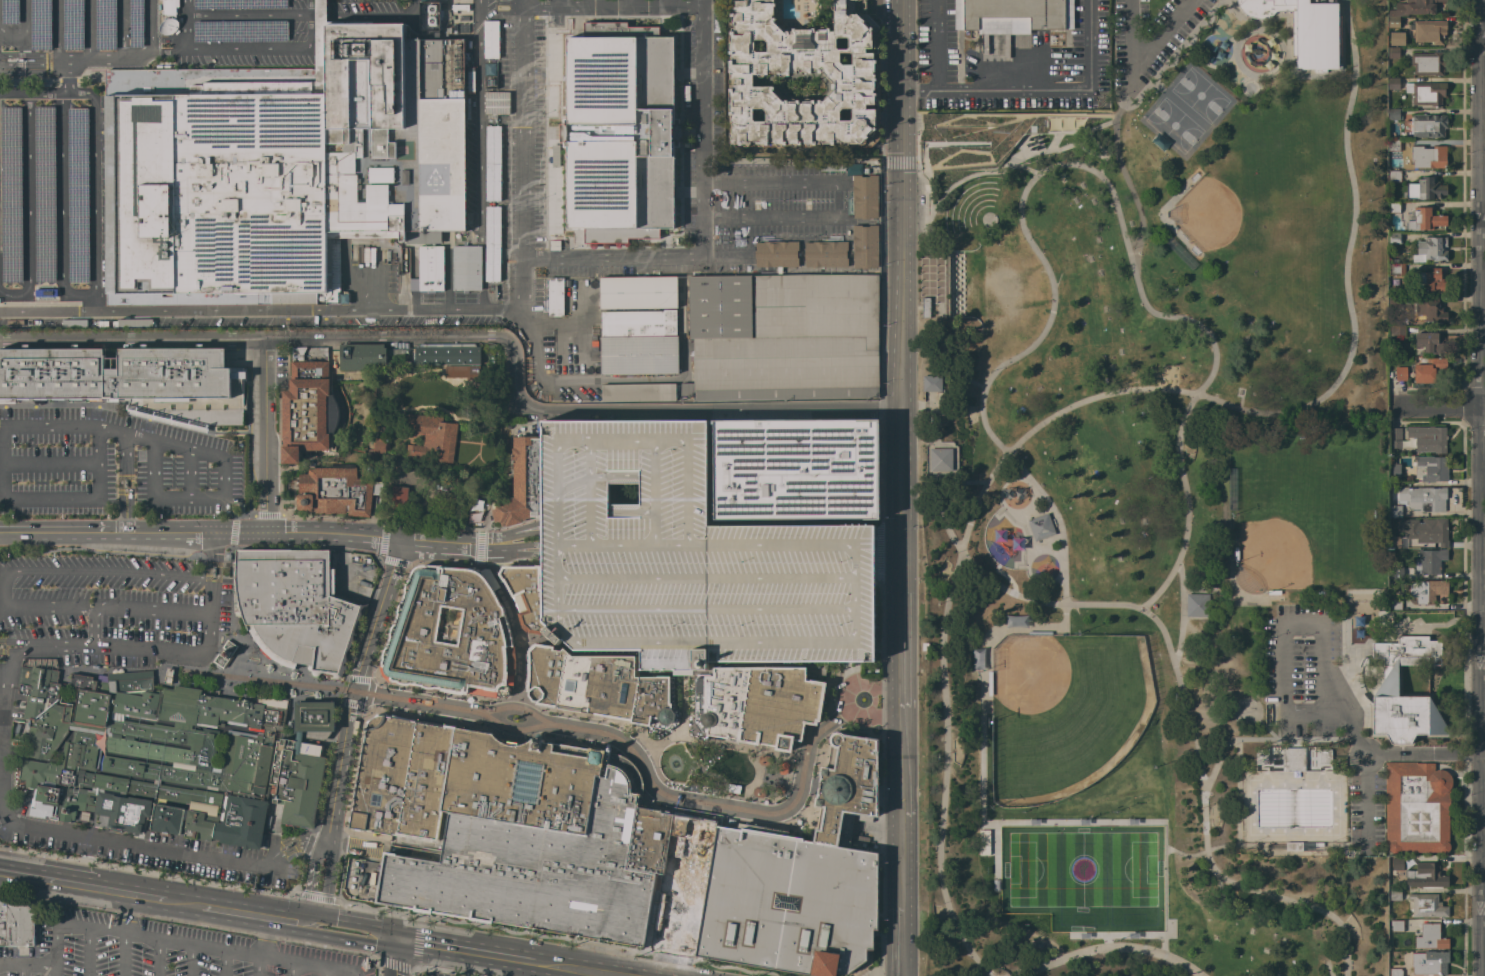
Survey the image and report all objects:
road: (520, 3)
road: (521, 3)
road: (554, 3)
road: (593, 3)
road: (630, 3)
road: (666, 3)
building: (237, 4)
road: (412, 6)
road: (611, 6)
building: (170, 7)
road: (1346, 7)
building: (1414, 7)
building: (8, 11)
road: (369, 13)
road: (320, 15)
road: (265, 16)
road: (313, 16)
building: (429, 16)
building: (1013, 16)
building: (1394, 22)
building: (134, 23)
building: (39, 24)
building: (71, 24)
building: (103, 24)
road: (148, 25)
road: (186, 25)
road: (1261, 27)
building: (1305, 28)
road: (57, 30)
road: (88, 31)
road: (120, 31)
building: (238, 31)
building: (1430, 31)
road: (1344, 36)
road: (24, 37)
parking lot: (1151, 37)
building: (1396, 38)
building: (491, 40)
road: (1290, 44)
road: (936, 45)
road: (167, 46)
road: (248, 50)
building: (1395, 52)
road: (1238, 53)
road: (1287, 53)
road: (1175, 56)
road: (1141, 58)
road: (32, 59)
road: (107, 63)
building: (1428, 64)
road: (33, 72)
building: (851, 73)
road: (64, 78)
building: (490, 81)
building: (1394, 83)
road: (1040, 89)
building: (1426, 93)
road: (32, 94)
park: (1202, 96)
building: (492, 103)
building: (504, 103)
building: (1395, 114)
building: (1427, 125)
park: (1177, 126)
road: (702, 128)
building: (619, 132)
building: (984, 137)
road: (1090, 138)
building: (1394, 147)
road: (1055, 148)
building: (555, 152)
road: (481, 155)
building: (1428, 157)
road: (520, 158)
building: (555, 163)
building: (492, 164)
building: (280, 167)
building: (1394, 176)
helipad: (433, 179)
road: (93, 181)
road: (953, 182)
road: (1132, 188)
building: (1430, 188)
road: (61, 194)
building: (9, 195)
road: (28, 195)
building: (43, 195)
building: (76, 195)
building: (864, 196)
road: (838, 201)
road: (1479, 202)
parking lot: (772, 207)
building: (1394, 207)
park: (1243, 217)
building: (1425, 220)
building: (1395, 238)
building: (492, 244)
building: (865, 246)
building: (1431, 250)
building: (776, 254)
building: (825, 254)
road: (636, 258)
building: (466, 268)
building: (1396, 269)
building: (427, 274)
road: (904, 279)
building: (1431, 280)
building: (638, 292)
road: (47, 295)
building: (555, 297)
building: (1394, 300)
road: (94, 303)
building: (925, 307)
building: (1431, 310)
road: (260, 311)
road: (942, 322)
building: (1392, 322)
building: (638, 323)
building: (1397, 331)
building: (784, 337)
road: (479, 338)
building: (1430, 343)
building: (323, 350)
building: (298, 353)
building: (446, 354)
building: (639, 355)
building: (362, 356)
building: (465, 370)
building: (1428, 370)
building: (1401, 373)
road: (617, 379)
building: (132, 381)
building: (932, 383)
building: (686, 389)
building: (638, 392)
road: (985, 395)
building: (940, 400)
road: (1093, 400)
road: (1439, 404)
road: (107, 405)
building: (309, 411)
building: (383, 416)
road: (2, 423)
road: (50, 423)
road: (123, 433)
road: (262, 435)
building: (1394, 437)
building: (432, 438)
building: (1428, 438)
building: (379, 446)
building: (941, 459)
road: (50, 464)
parking lot: (111, 464)
building: (1431, 468)
building: (796, 469)
building: (525, 471)
road: (188, 472)
building: (1393, 472)
road: (123, 482)
road: (593, 491)
road: (656, 491)
building: (336, 492)
road: (214, 493)
road: (49, 497)
building: (399, 497)
building: (1424, 498)
building: (1395, 510)
building: (507, 511)
park: (1171, 516)
park: (1296, 524)
building: (1039, 527)
building: (1425, 530)
road: (224, 531)
road: (504, 535)
building: (1394, 542)
road: (212, 544)
road: (305, 546)
road: (503, 548)
road: (478, 549)
road: (101, 551)
road: (216, 556)
road: (378, 557)
building: (685, 558)
parking lot: (685, 558)
road: (865, 558)
road: (889, 559)
building: (1431, 560)
road: (207, 567)
road: (216, 567)
road: (451, 568)
building: (1397, 572)
road: (48, 574)
road: (1005, 577)
road: (708, 579)
road: (230, 583)
building: (1426, 590)
building: (525, 595)
building: (1395, 604)
parking lot: (99, 605)
building: (1195, 605)
building: (293, 607)
road: (132, 609)
road: (708, 609)
road: (1184, 614)
road: (903, 623)
building: (450, 634)
road: (517, 636)
road: (241, 641)
road: (689, 642)
road: (7, 645)
building: (924, 646)
building: (224, 653)
road: (25, 656)
road: (1324, 667)
road: (132, 668)
parking lot: (1306, 670)
building: (166, 675)
road: (884, 684)
road: (161, 685)
building: (599, 687)
road: (61, 688)
building: (1387, 688)
road: (351, 689)
road: (1183, 690)
road: (1481, 690)
road: (227, 702)
road: (683, 703)
building: (752, 705)
road: (516, 707)
road: (853, 712)
park: (1061, 712)
road: (882, 714)
railway: (819, 715)
road: (158, 721)
railway: (555, 725)
road: (555, 725)
road: (827, 727)
road: (254, 732)
road: (137, 738)
road: (1272, 740)
road: (717, 741)
building: (150, 755)
road: (1425, 755)
building: (1325, 756)
building: (1262, 757)
building: (1293, 759)
road: (163, 762)
fountain: (675, 764)
building: (299, 766)
road: (1, 767)
road: (113, 772)
building: (382, 775)
building: (426, 781)
building: (846, 784)
road: (150, 801)
road: (90, 802)
building: (1416, 807)
road: (151, 811)
road: (184, 813)
parking lot: (1368, 815)
road: (902, 832)
road: (217, 835)
building: (538, 842)
building: (1293, 846)
road: (1169, 849)
road: (1300, 853)
parking lot: (148, 857)
building: (1397, 863)
road: (161, 874)
park: (1083, 876)
building: (1425, 876)
road: (47, 879)
road: (319, 882)
building: (684, 883)
road: (129, 893)
building: (1395, 894)
building: (790, 902)
road: (182, 903)
building: (1427, 906)
road: (235, 912)
road: (124, 914)
road: (293, 919)
traffic signals: (315, 919)
building: (16, 923)
road: (350, 925)
building: (1397, 926)
road: (106, 931)
road: (326, 934)
building: (1430, 937)
road: (264, 938)
road: (389, 939)
traffic signals: (396, 941)
road: (174, 943)
road: (207, 948)
road: (1110, 948)
road: (54, 949)
parking lot: (161, 950)
road: (469, 951)
road: (88, 952)
road: (240, 954)
road: (124, 955)
road: (157, 958)
road: (395, 958)
road: (273, 960)
road: (190, 961)
road: (224, 963)
building: (1429, 963)
road: (414, 964)
road: (10, 965)
road: (37, 965)
road: (307, 966)
road: (1329, 966)
road: (257, 967)
road: (290, 969)
road: (582, 969)
road: (21, 970)
road: (340, 971)
road: (323, 972)
building: (1395, 972)
road: (583, 973)
parking lot: (430, 974)
road: (357, 975)

